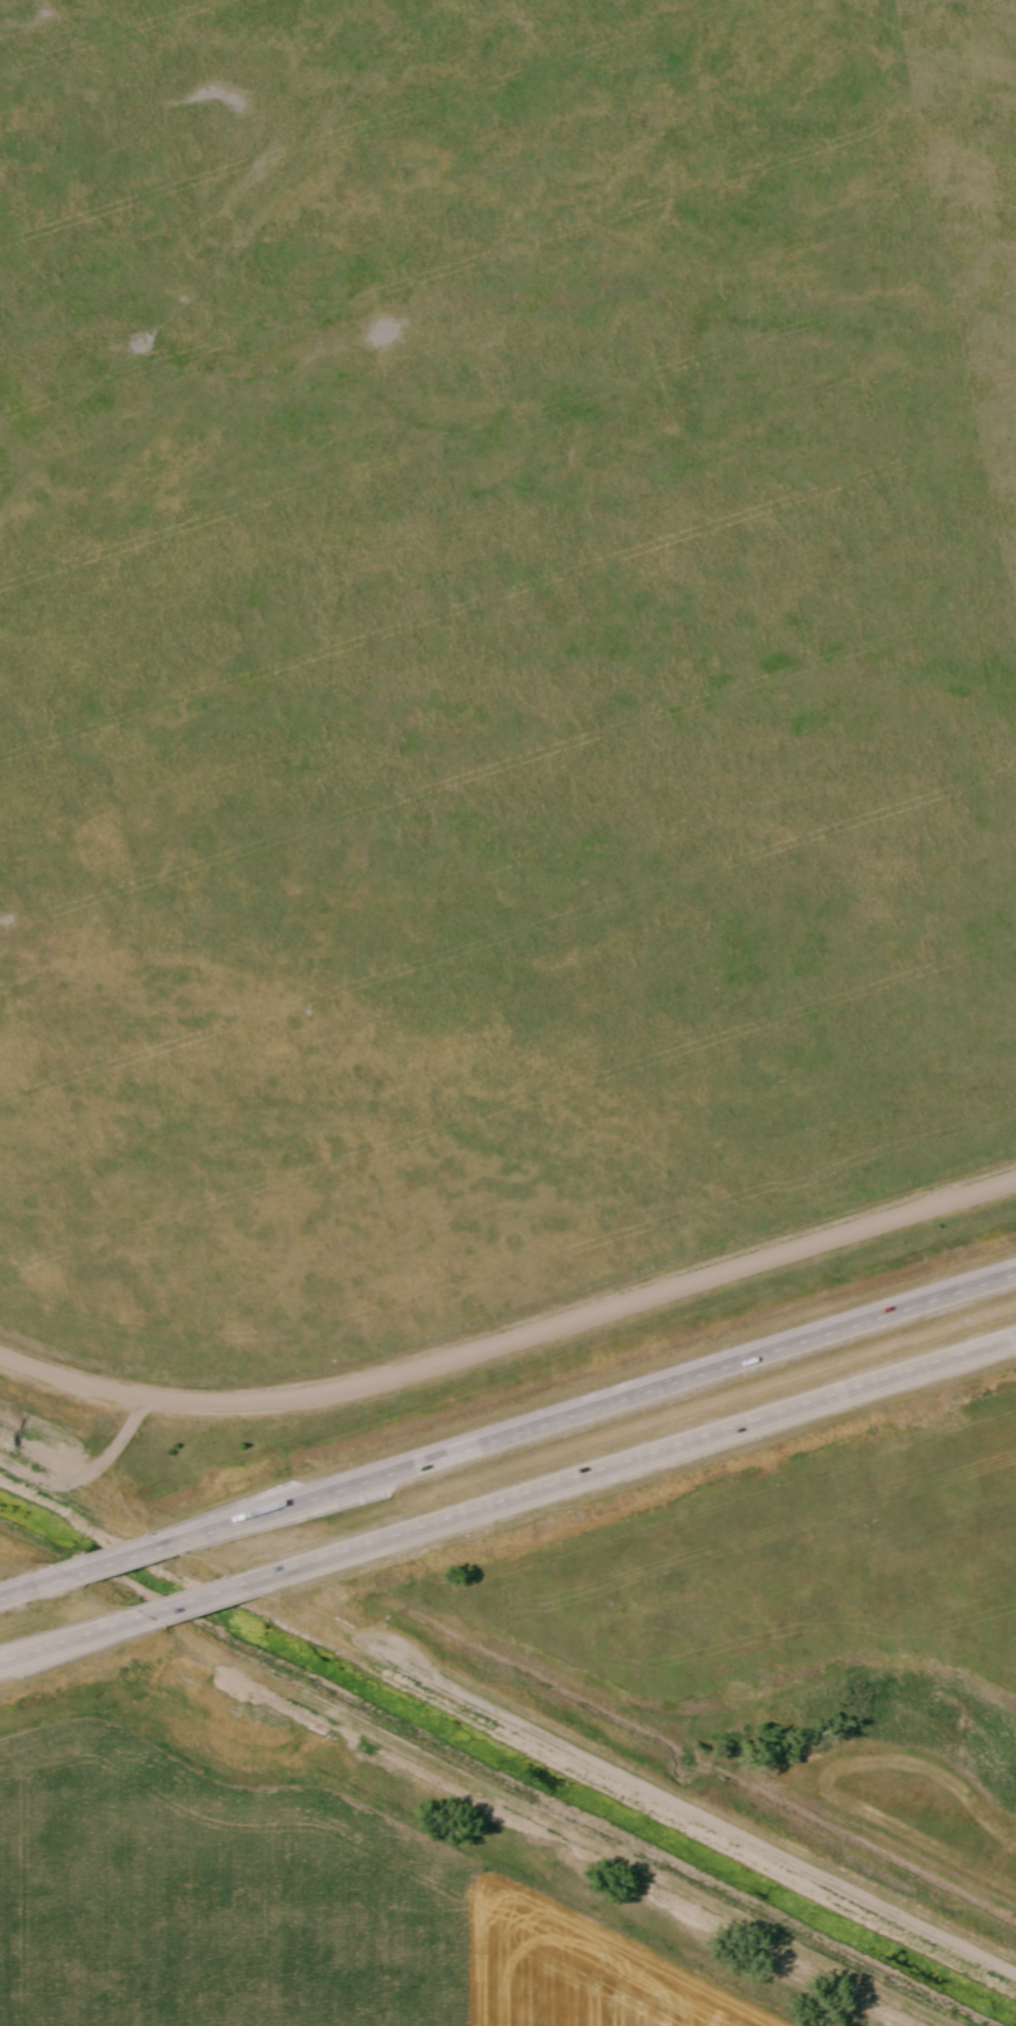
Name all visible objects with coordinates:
road: (512, 1343)
road: (610, 1401)
road: (648, 1454)
road: (90, 1466)
road: (124, 1554)
road: (21, 1589)
road: (200, 1599)
road: (59, 1643)
road: (661, 1795)

